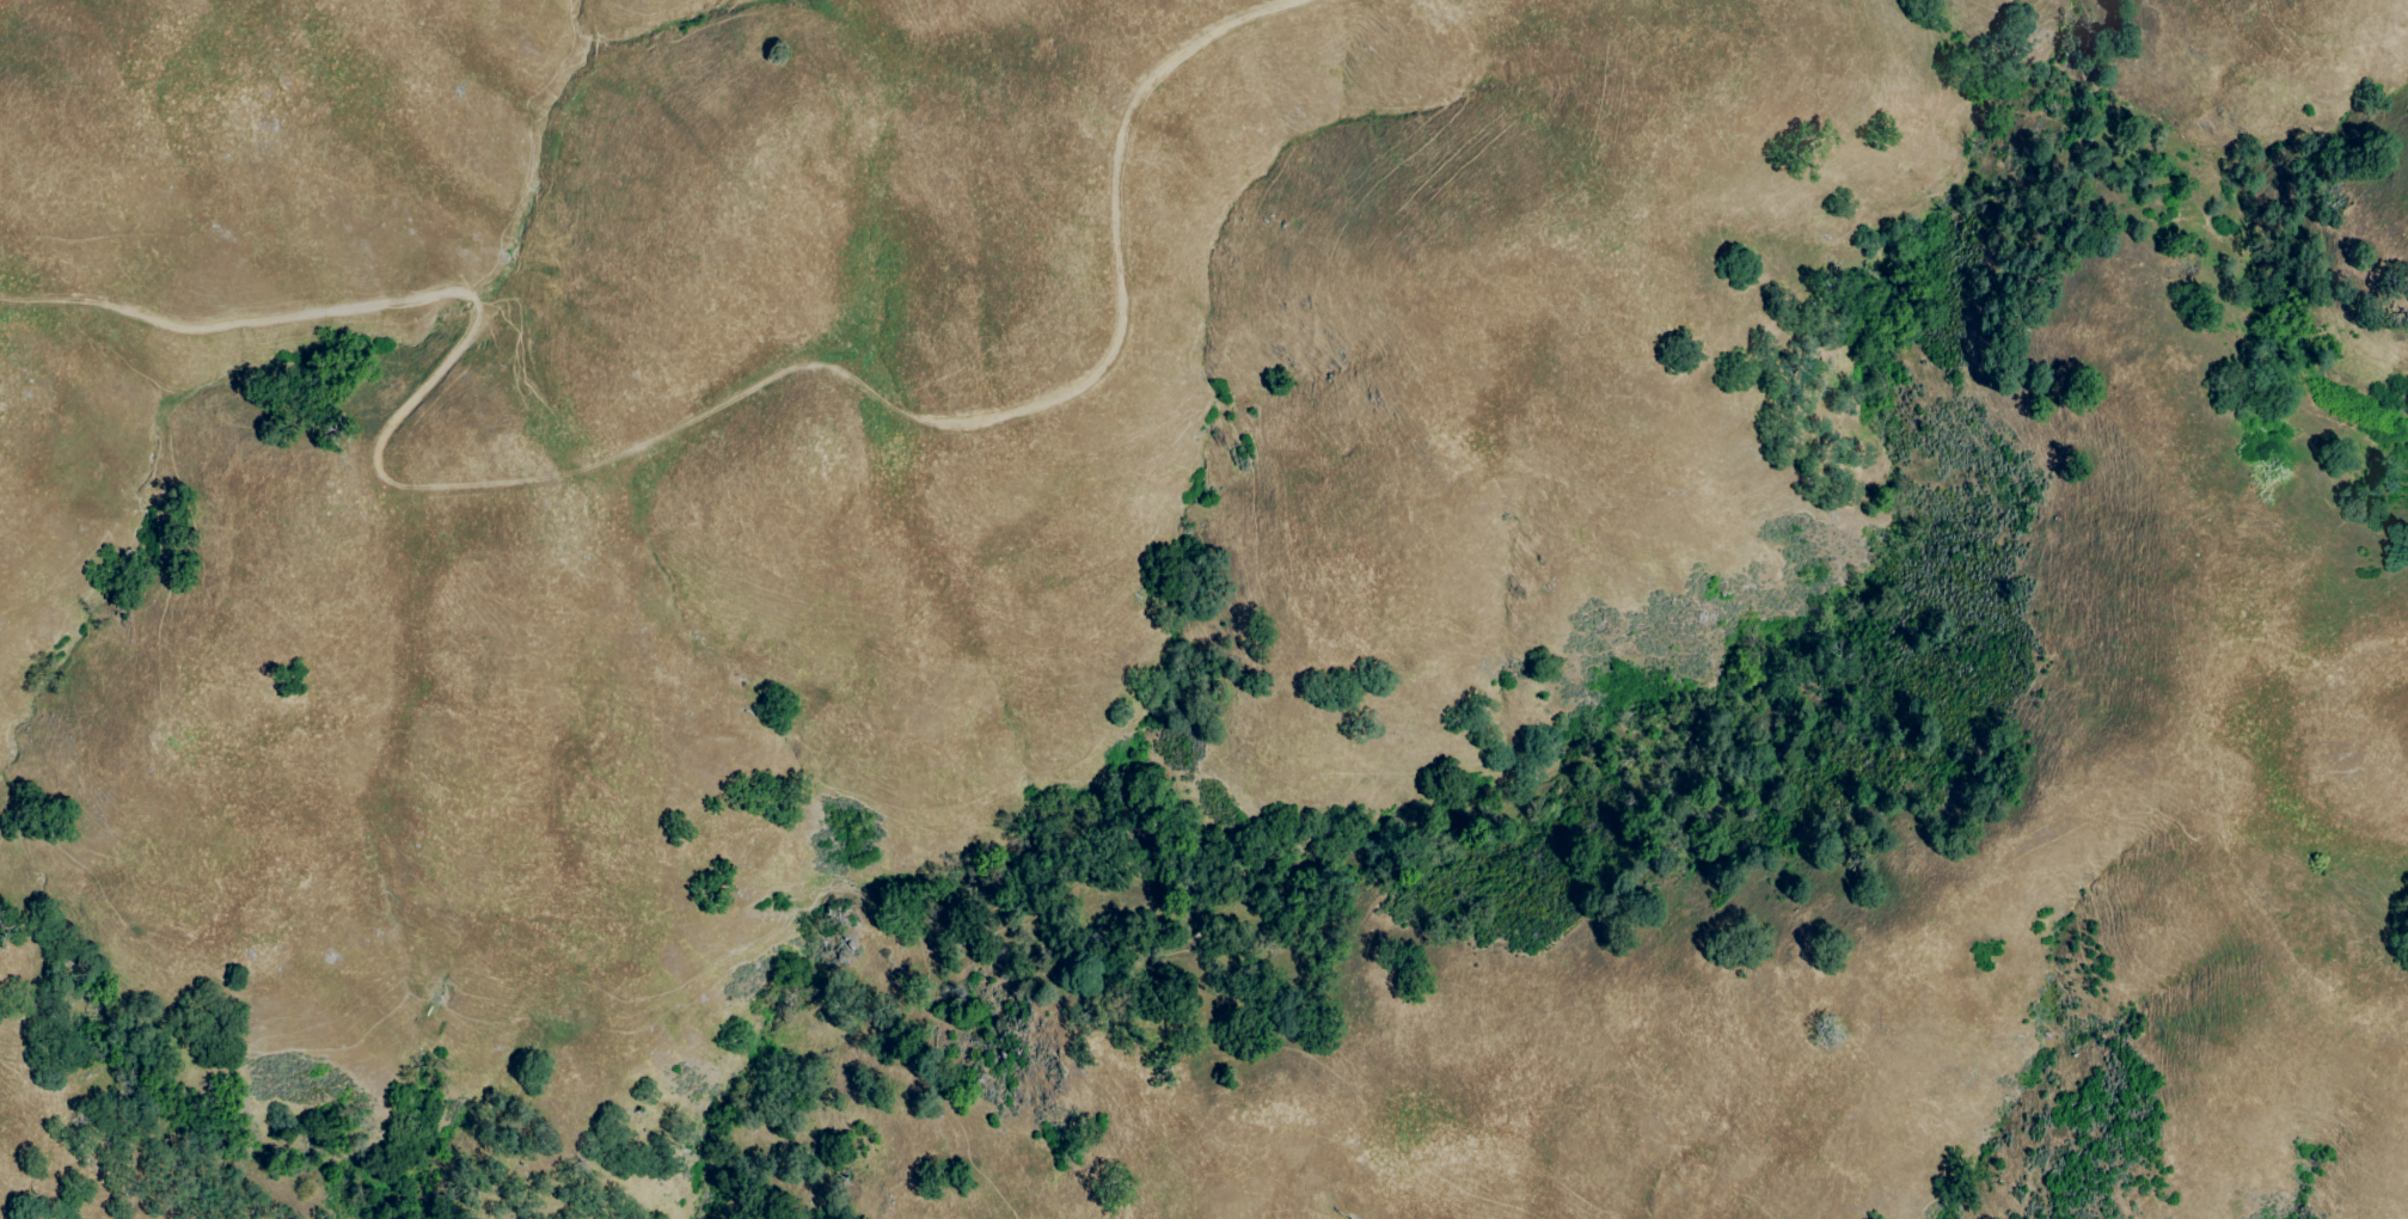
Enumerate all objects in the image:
road: (239, 324)
road: (864, 386)

